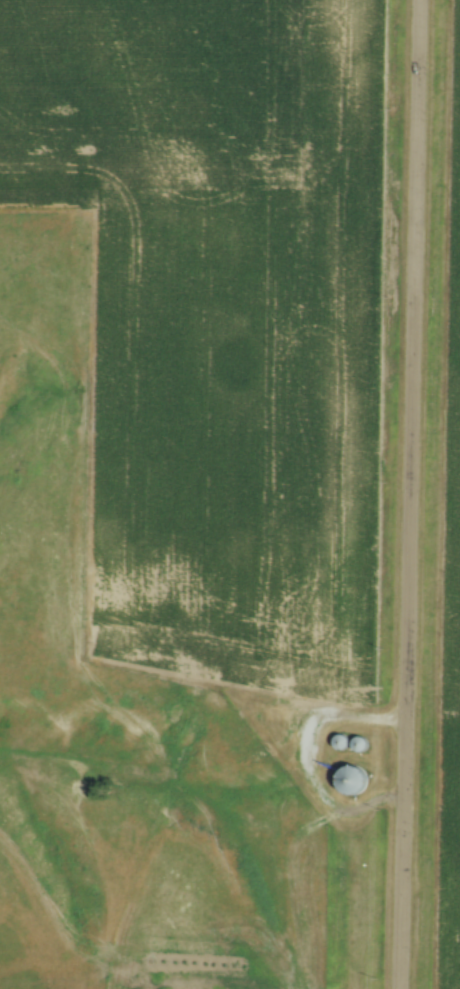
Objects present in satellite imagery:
road: (409, 494)
building: (340, 744)
building: (353, 781)

